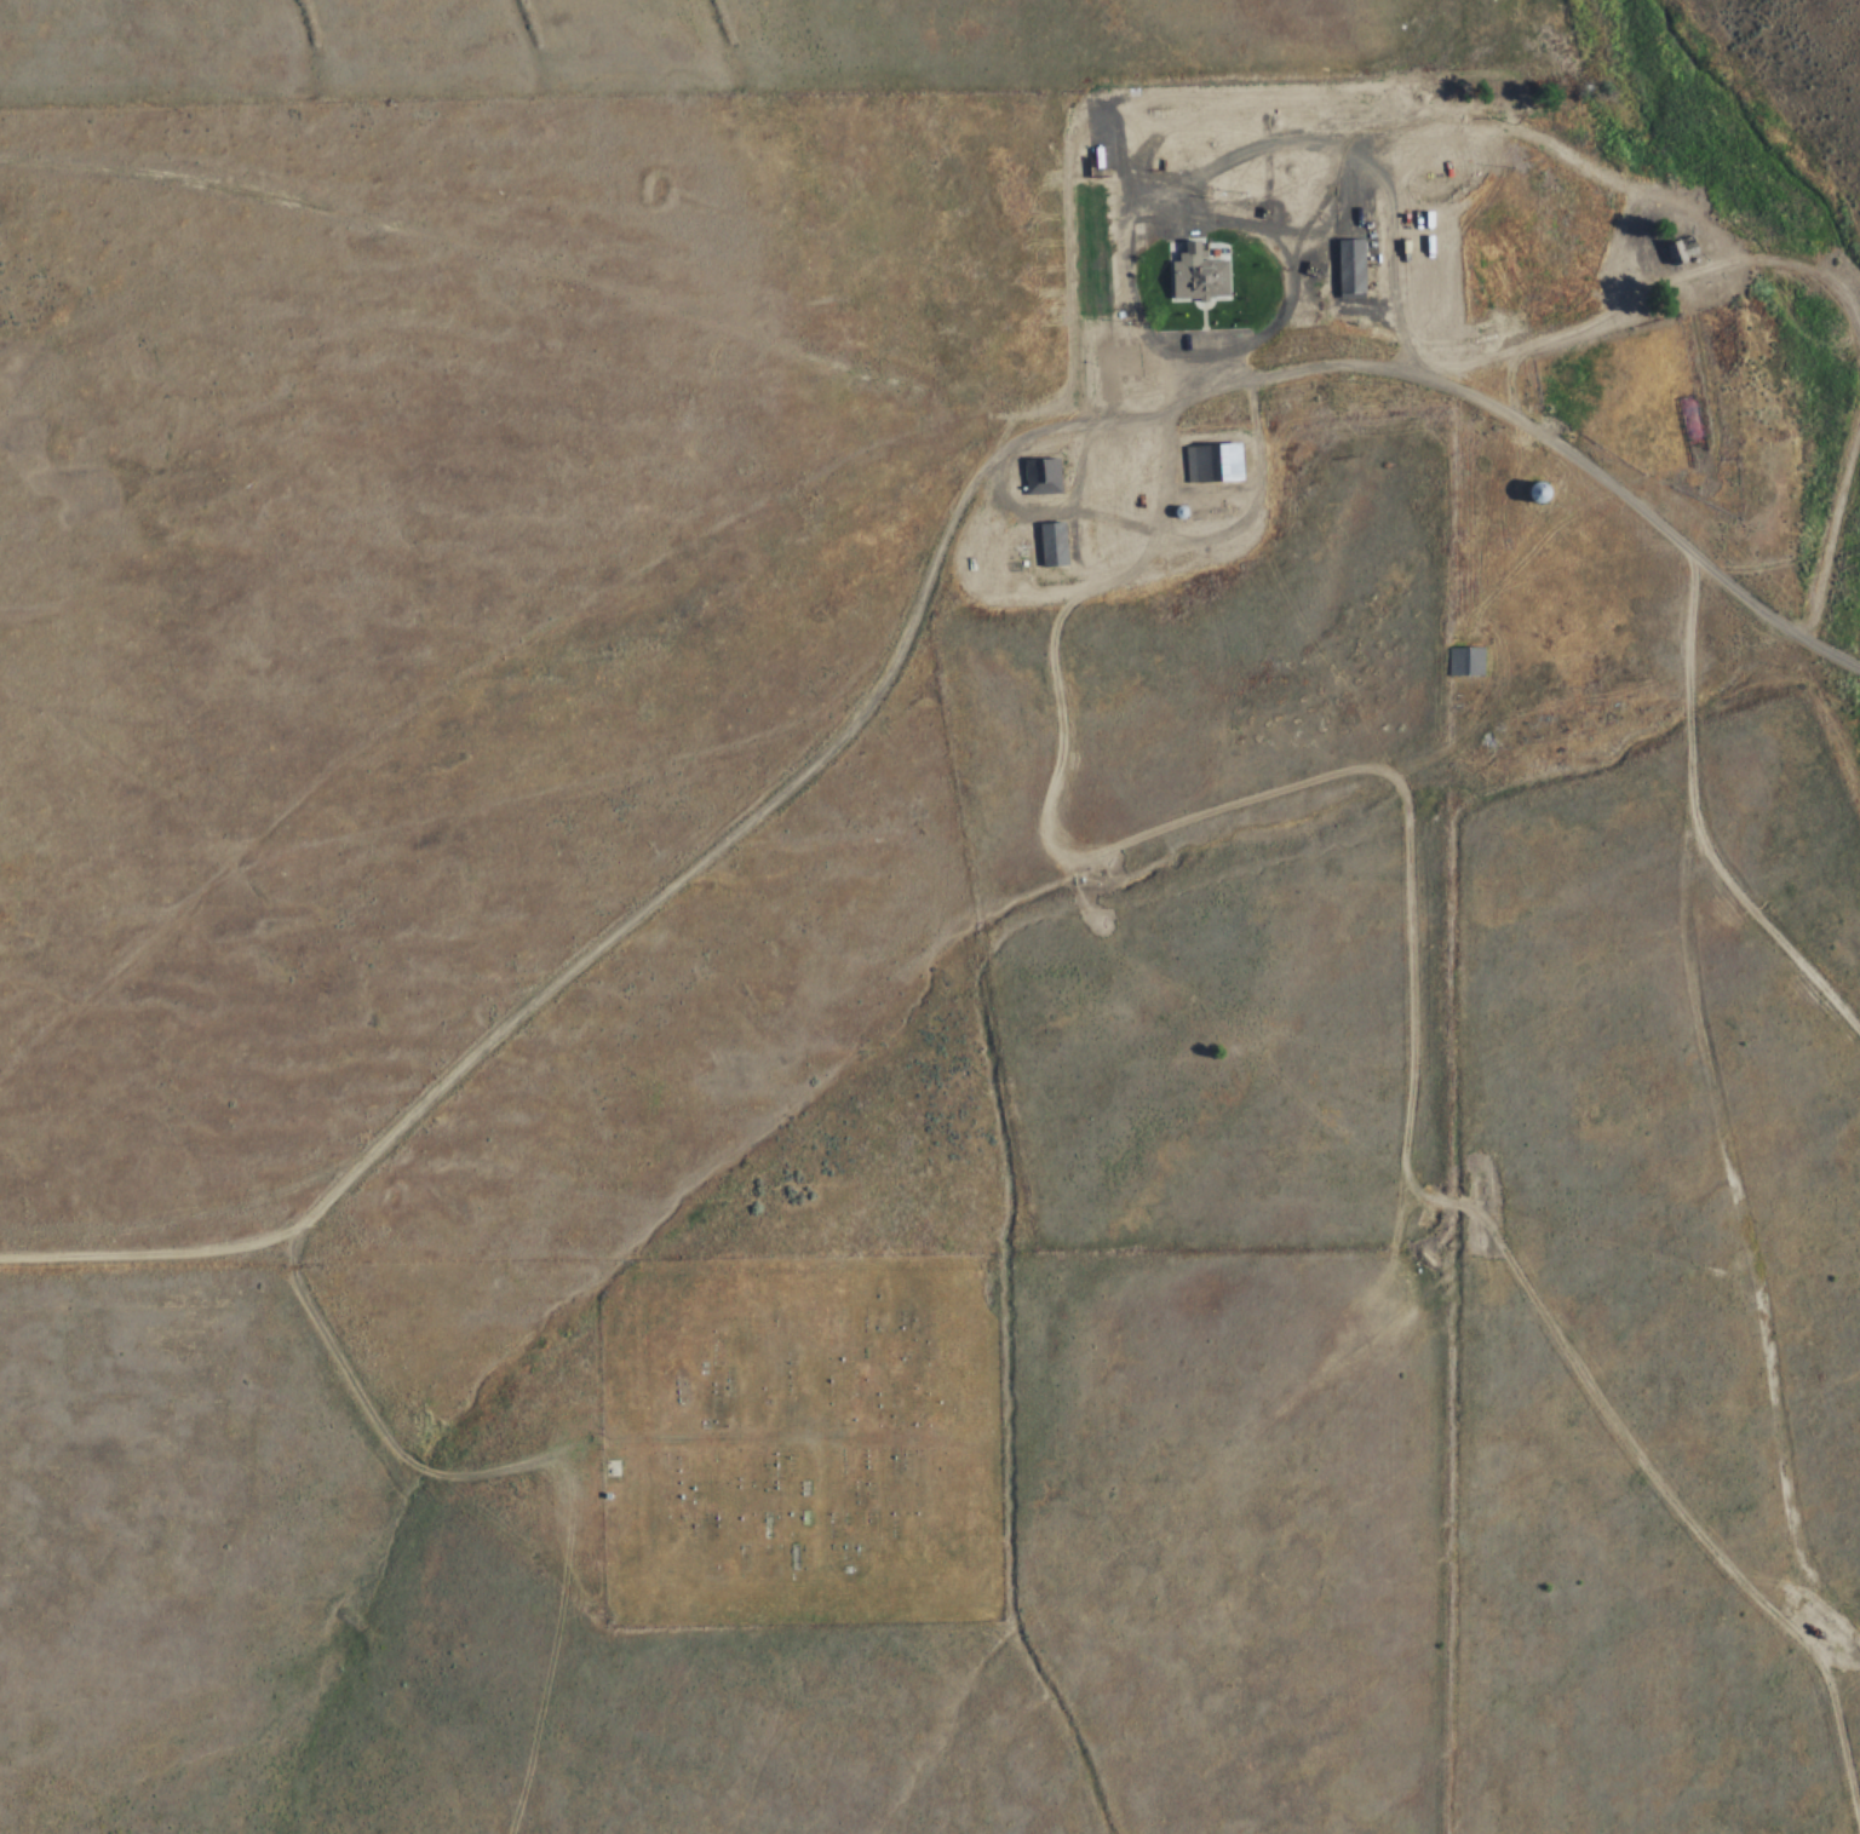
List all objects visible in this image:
building: (1680, 248)
building: (1350, 266)
building: (1198, 280)
building: (1212, 464)
building: (1041, 476)
building: (1532, 491)
building: (1052, 545)
building: (1468, 662)
road: (871, 694)
park: (799, 1437)

